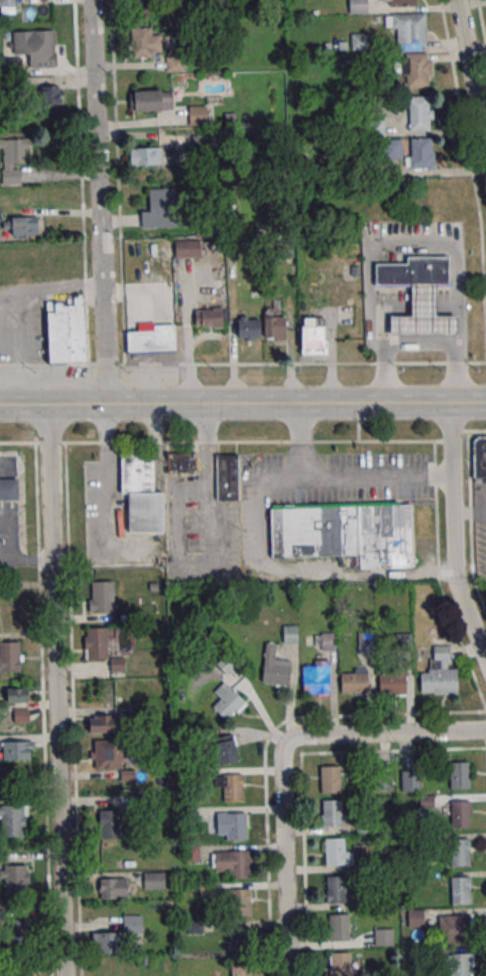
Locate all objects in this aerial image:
building: (7, 2)
building: (397, 3)
building: (144, 6)
building: (357, 6)
road: (481, 24)
building: (408, 30)
building: (359, 41)
building: (142, 42)
building: (35, 47)
building: (174, 64)
building: (417, 70)
road: (471, 75)
building: (52, 95)
building: (148, 100)
building: (420, 113)
building: (198, 116)
building: (375, 128)
building: (392, 148)
building: (421, 153)
building: (145, 156)
building: (13, 159)
road: (471, 168)
road: (80, 182)
road: (97, 202)
building: (161, 209)
building: (21, 226)
building: (187, 248)
building: (412, 271)
road: (19, 310)
building: (421, 314)
building: (208, 318)
building: (275, 326)
building: (247, 328)
building: (66, 331)
building: (313, 335)
building: (151, 339)
road: (420, 345)
road: (242, 363)
road: (242, 403)
road: (234, 442)
building: (479, 457)
building: (183, 463)
road: (111, 473)
road: (378, 474)
building: (227, 478)
building: (9, 490)
building: (141, 496)
road: (470, 514)
road: (453, 532)
road: (252, 533)
building: (345, 533)
parking lot: (9, 536)
road: (27, 559)
building: (100, 599)
building: (290, 634)
building: (325, 640)
building: (365, 642)
building: (95, 643)
building: (10, 656)
building: (275, 668)
building: (439, 674)
building: (316, 676)
building: (354, 680)
building: (392, 683)
road: (57, 690)
building: (228, 701)
building: (18, 703)
building: (103, 723)
road: (266, 743)
building: (226, 749)
building: (16, 750)
building: (106, 753)
road: (283, 758)
road: (301, 772)
building: (459, 776)
building: (330, 781)
building: (382, 781)
building: (410, 781)
building: (233, 788)
building: (118, 813)
building: (332, 815)
building: (460, 815)
building: (13, 820)
building: (236, 828)
building: (191, 853)
building: (334, 853)
building: (460, 854)
building: (239, 866)
building: (15, 879)
building: (154, 880)
building: (113, 888)
building: (336, 890)
building: (460, 891)
building: (239, 904)
building: (415, 917)
building: (132, 923)
building: (338, 929)
building: (460, 929)
building: (18, 930)
building: (383, 937)
building: (239, 941)
building: (107, 943)
building: (339, 964)
building: (460, 965)
building: (26, 969)
building: (240, 970)

